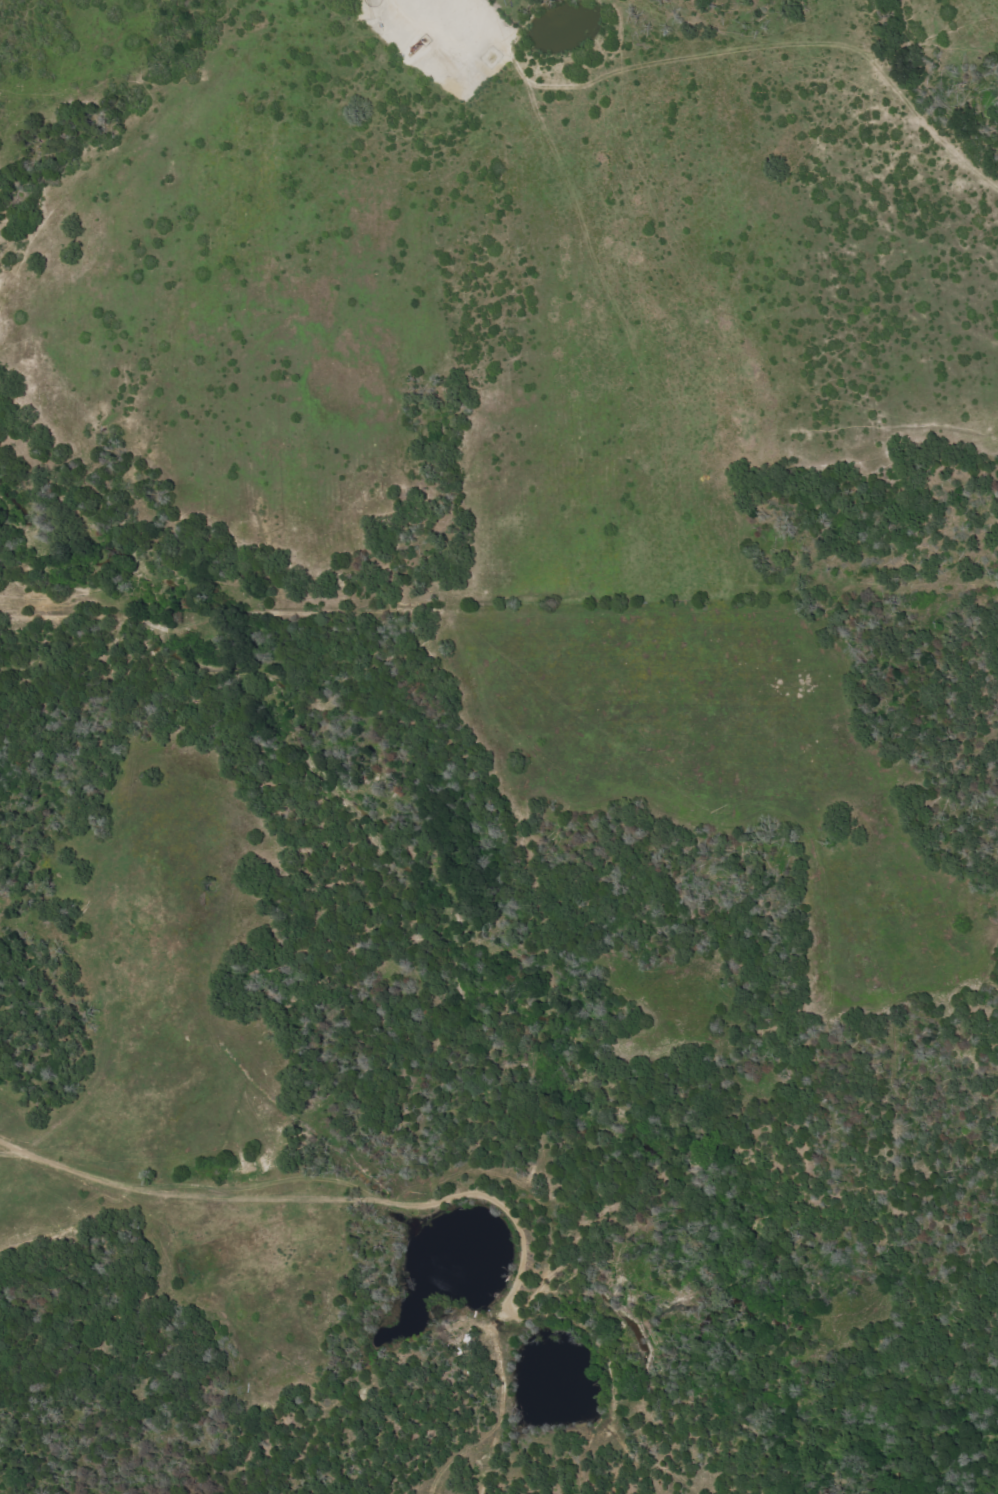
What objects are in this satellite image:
petroleum well: (418, 42)

